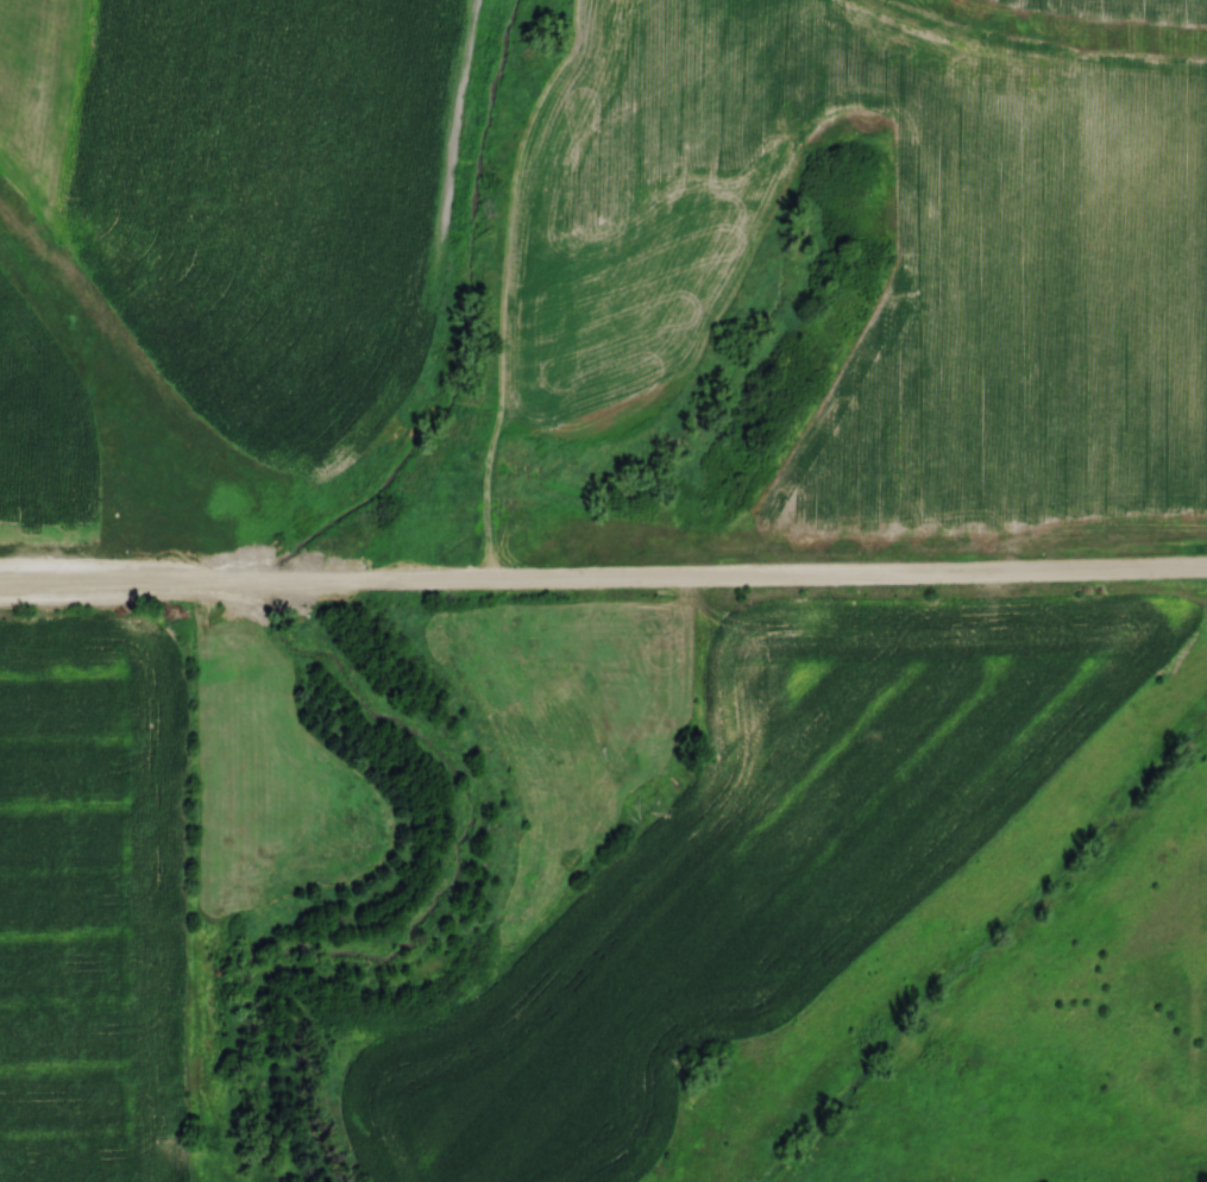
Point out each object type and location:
road: (603, 581)

